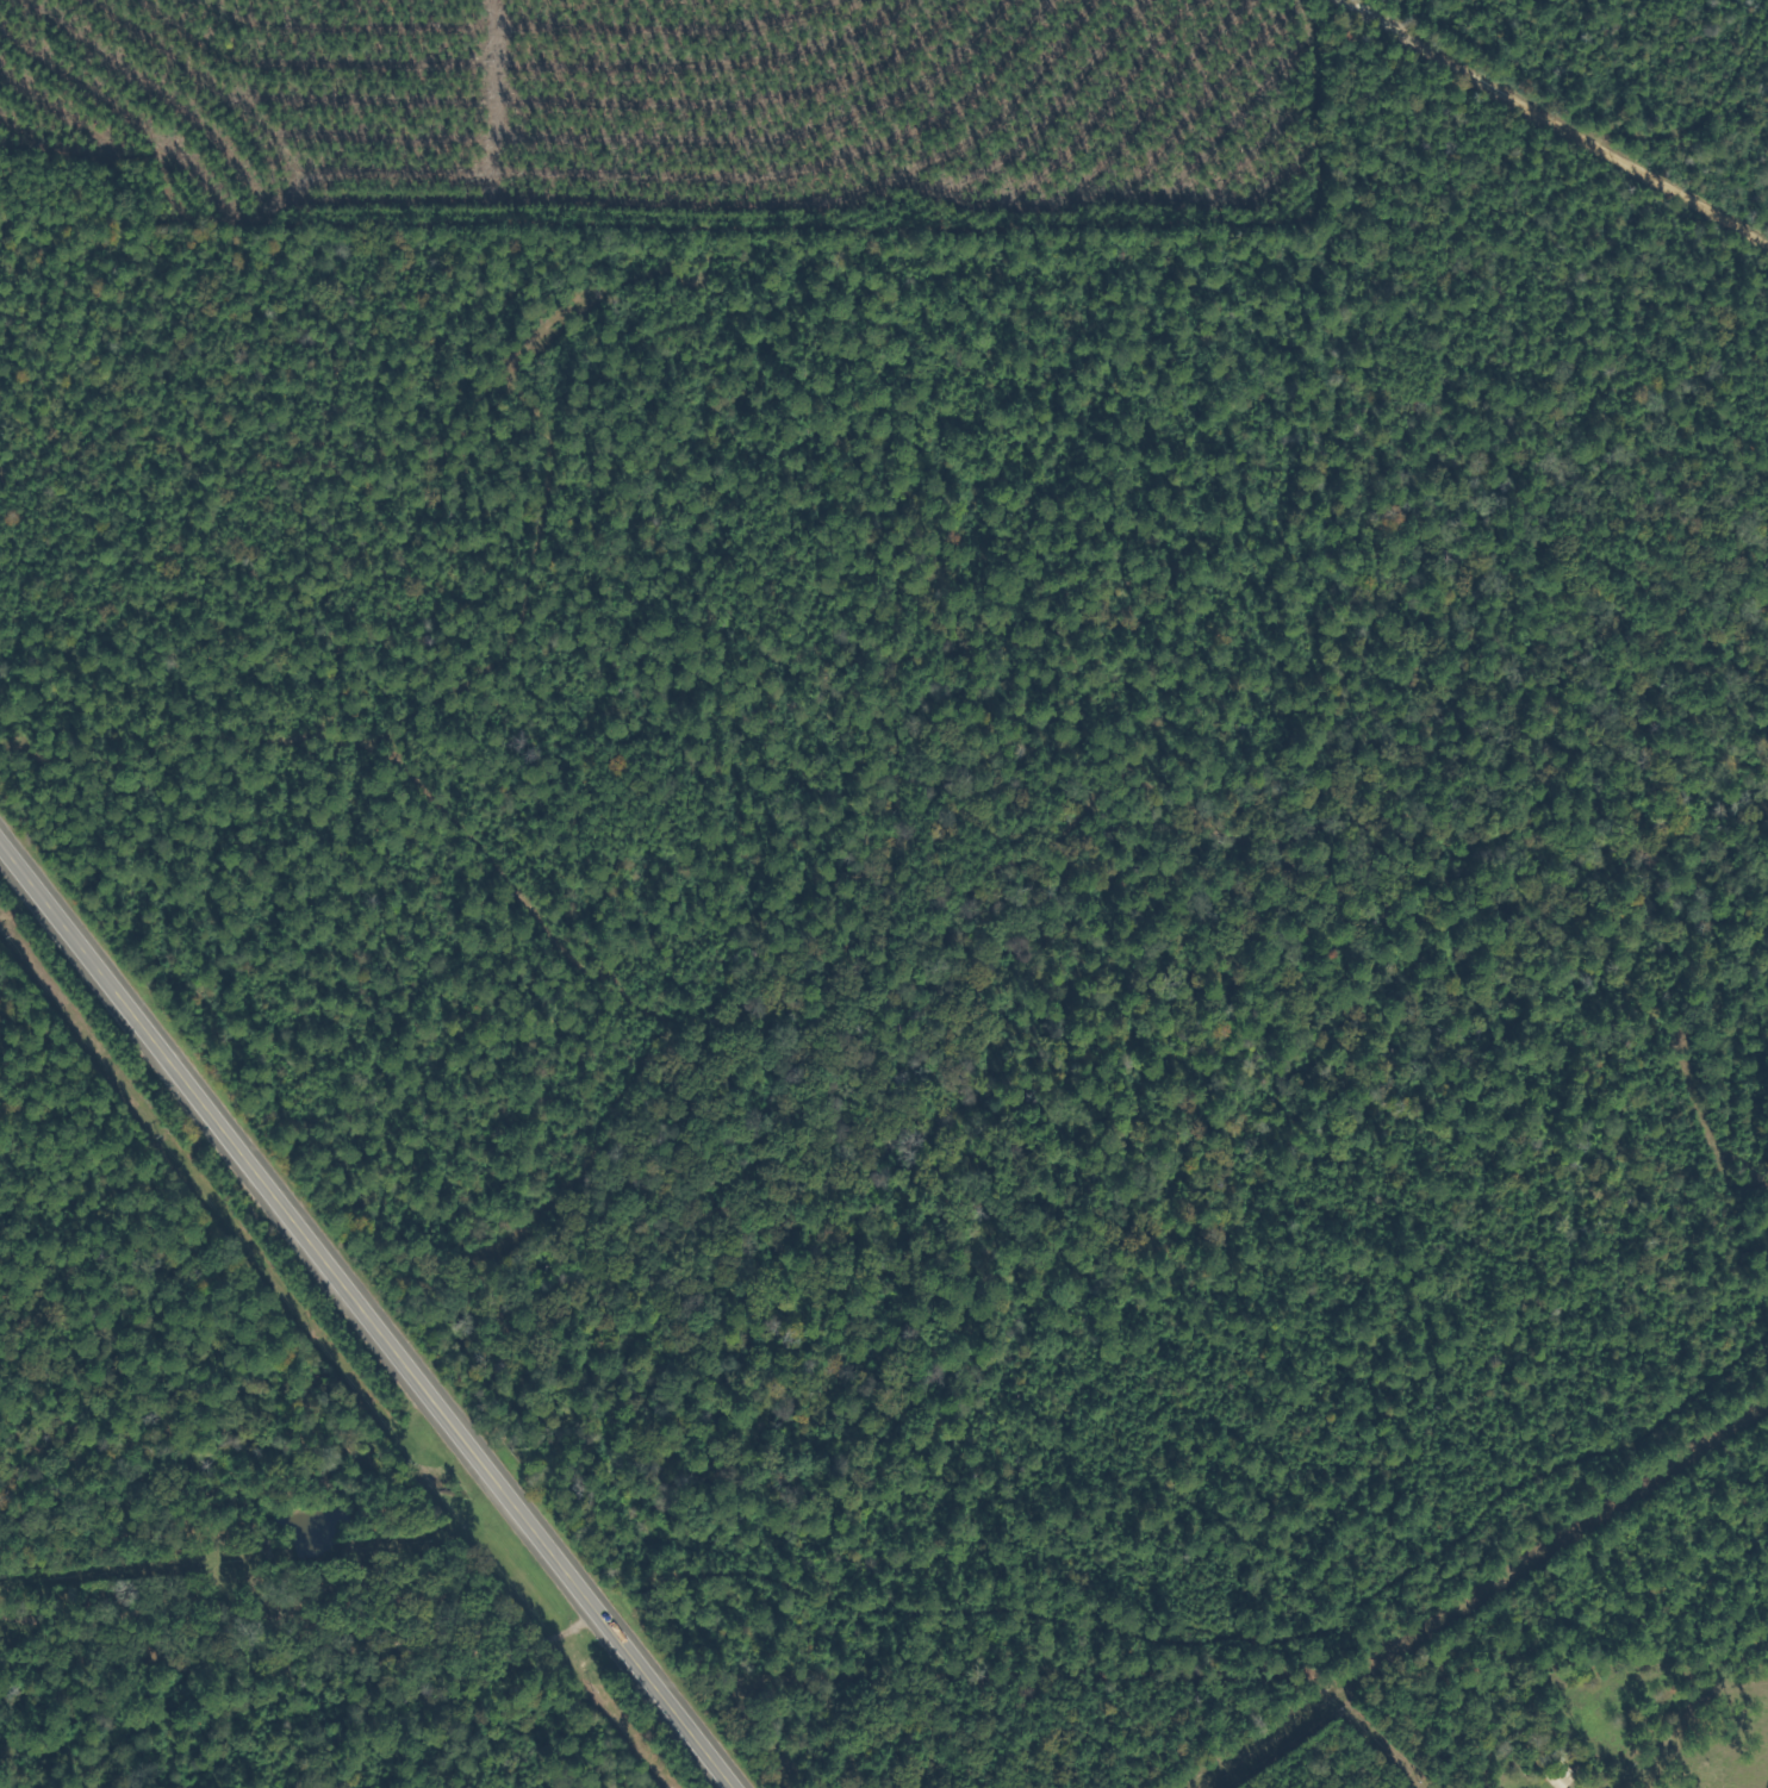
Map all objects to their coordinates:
road: (1523, 127)
road: (372, 1313)
building: (1555, 1775)

